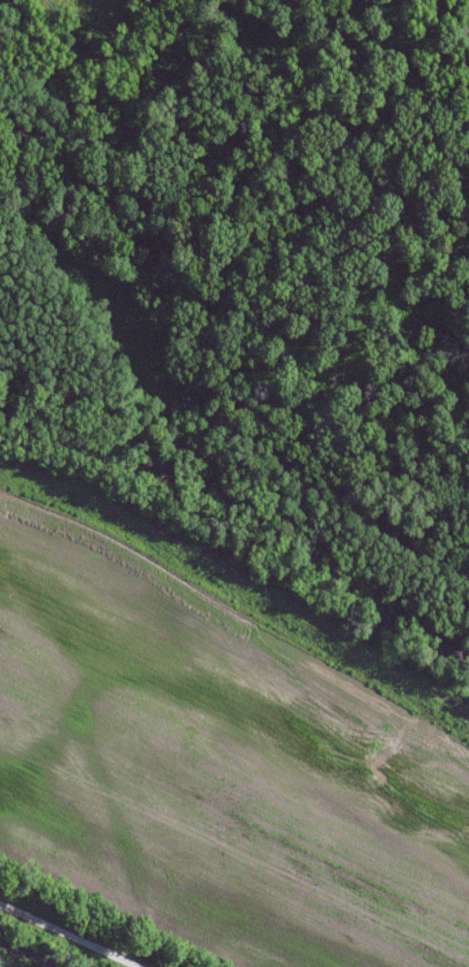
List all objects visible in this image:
road: (68, 936)

